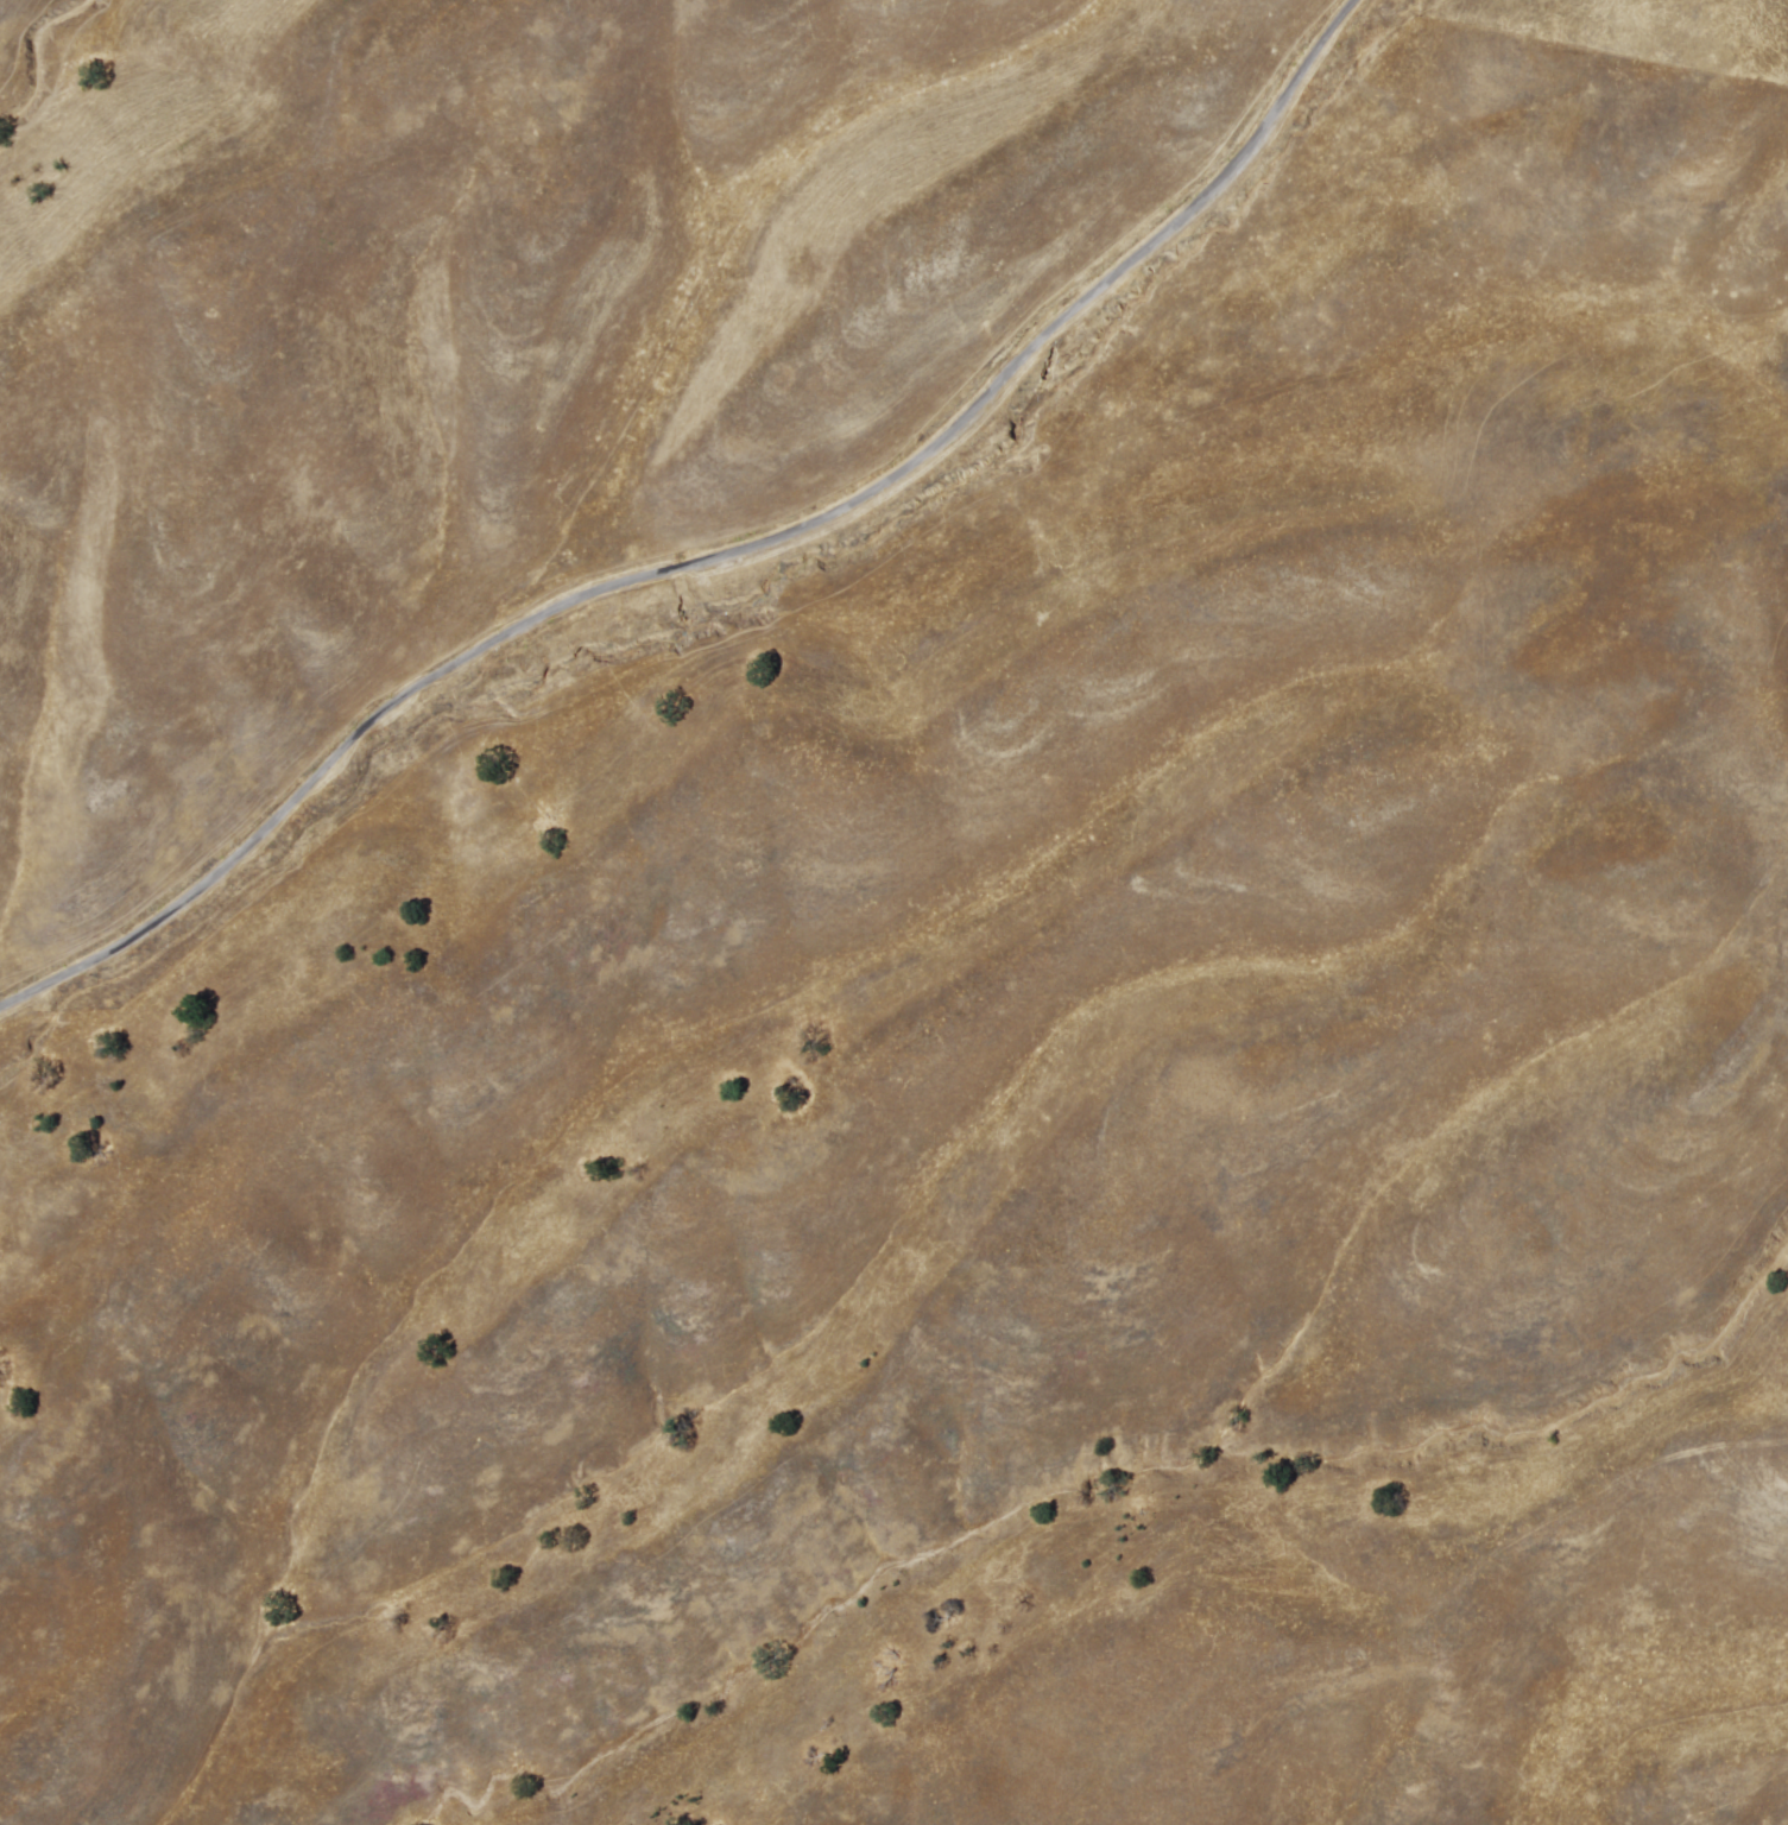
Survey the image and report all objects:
road: (716, 555)

